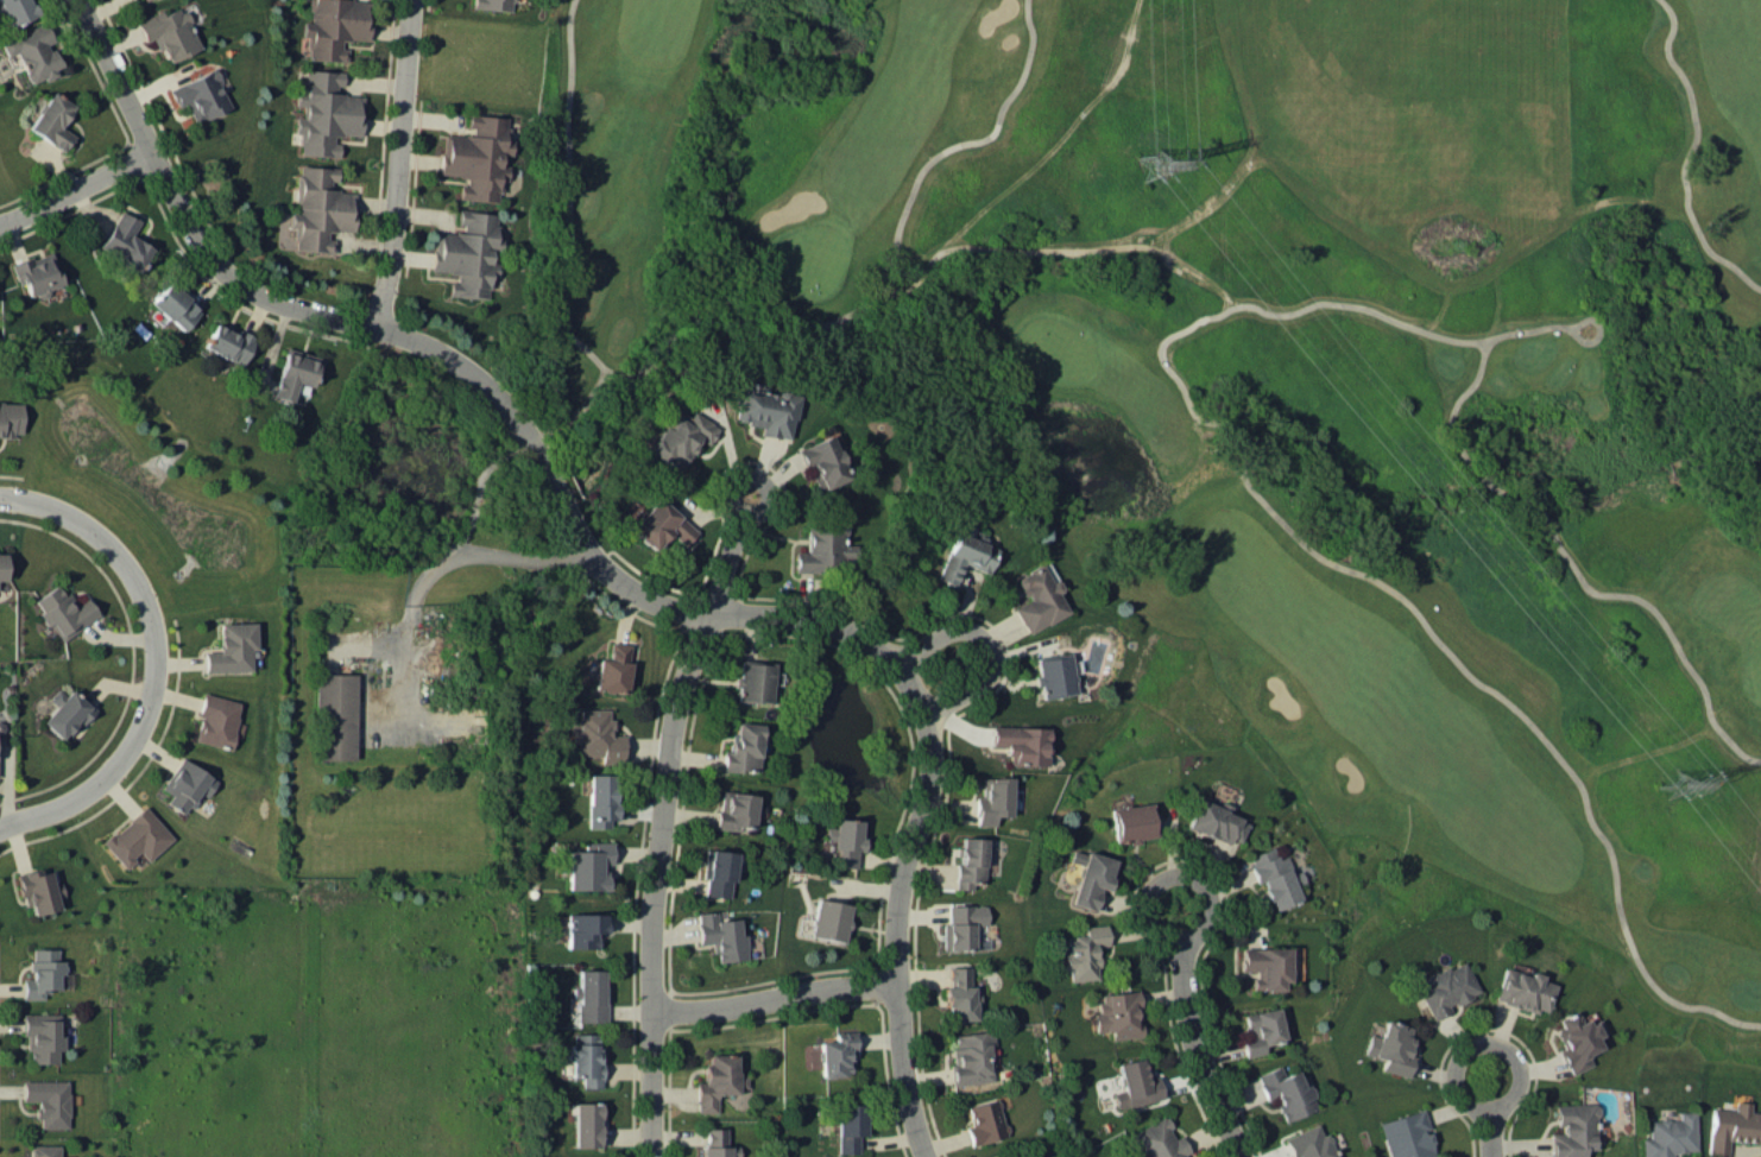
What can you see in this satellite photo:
building: (490, 5)
building: (15, 10)
building: (334, 26)
building: (169, 32)
building: (33, 51)
building: (201, 95)
building: (326, 112)
building: (52, 120)
building: (467, 152)
road: (1685, 154)
power tower: (1148, 162)
road: (397, 164)
road: (76, 186)
road: (567, 195)
building: (321, 208)
building: (125, 240)
building: (459, 251)
building: (37, 273)
road: (888, 283)
building: (175, 305)
road: (1585, 318)
road: (1522, 329)
road: (1580, 339)
building: (228, 342)
building: (295, 372)
road: (1456, 399)
building: (764, 410)
road: (573, 411)
building: (11, 418)
building: (680, 437)
building: (821, 461)
road: (476, 486)
building: (658, 524)
building: (825, 549)
road: (730, 552)
building: (964, 556)
building: (2, 565)
road: (1349, 568)
road: (428, 569)
road: (607, 571)
road: (1628, 594)
building: (1037, 598)
building: (64, 611)
road: (986, 645)
building: (232, 647)
road: (154, 657)
building: (613, 668)
building: (1053, 672)
building: (755, 681)
building: (63, 713)
building: (336, 715)
building: (216, 721)
building: (599, 735)
building: (1021, 744)
building: (743, 747)
building: (185, 784)
power tower: (1672, 784)
building: (601, 798)
building: (991, 799)
building: (734, 809)
building: (1129, 820)
building: (1208, 820)
building: (137, 837)
building: (846, 840)
building: (970, 860)
building: (589, 865)
building: (718, 873)
building: (1090, 877)
building: (1271, 877)
road: (656, 880)
building: (39, 889)
building: (829, 918)
building: (960, 925)
building: (585, 929)
building: (1084, 951)
building: (1265, 965)
building: (42, 973)
building: (1447, 987)
building: (1522, 988)
building: (958, 993)
building: (592, 995)
road: (774, 997)
building: (1118, 1013)
road: (1188, 1025)
building: (1261, 1030)
building: (1583, 1035)
building: (42, 1036)
building: (1391, 1047)
building: (835, 1054)
building: (970, 1056)
building: (587, 1058)
building: (719, 1080)
building: (1136, 1083)
building: (1286, 1092)
building: (49, 1100)
road: (1485, 1108)
building: (984, 1120)
building: (587, 1123)
building: (1732, 1124)
building: (850, 1125)
building: (1573, 1130)
building: (1670, 1130)
building: (1407, 1136)
building: (1160, 1139)
building: (717, 1143)
building: (1308, 1143)
building: (44, 1150)

